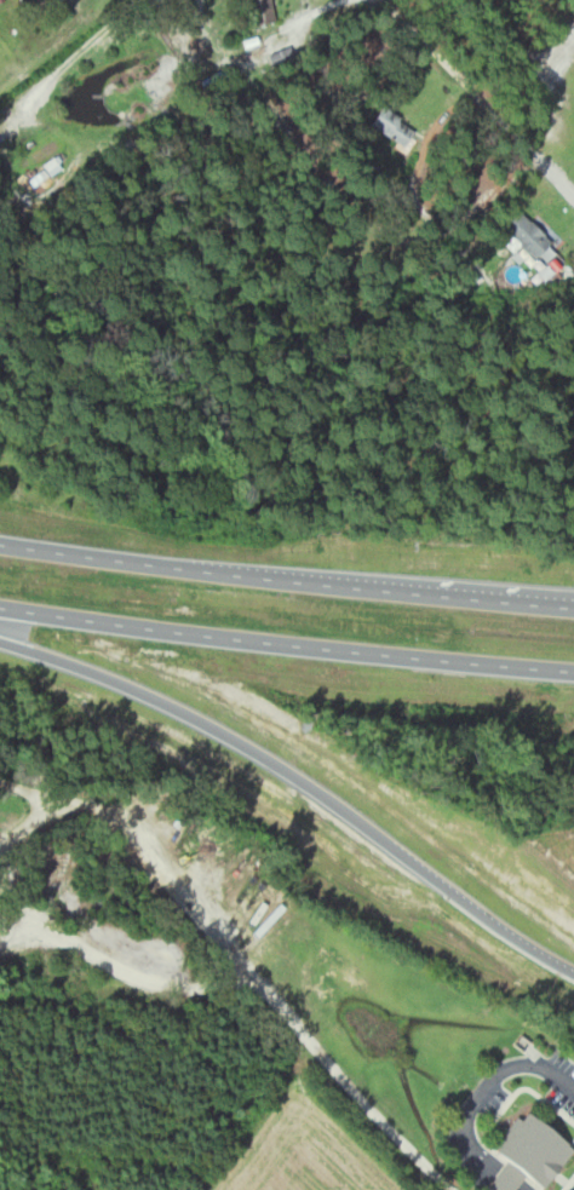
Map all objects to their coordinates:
building: (16, 0)
building: (257, 11)
road: (471, 94)
building: (390, 126)
building: (521, 235)
road: (286, 581)
road: (286, 646)
road: (302, 775)
road: (354, 1091)
building: (523, 1155)

